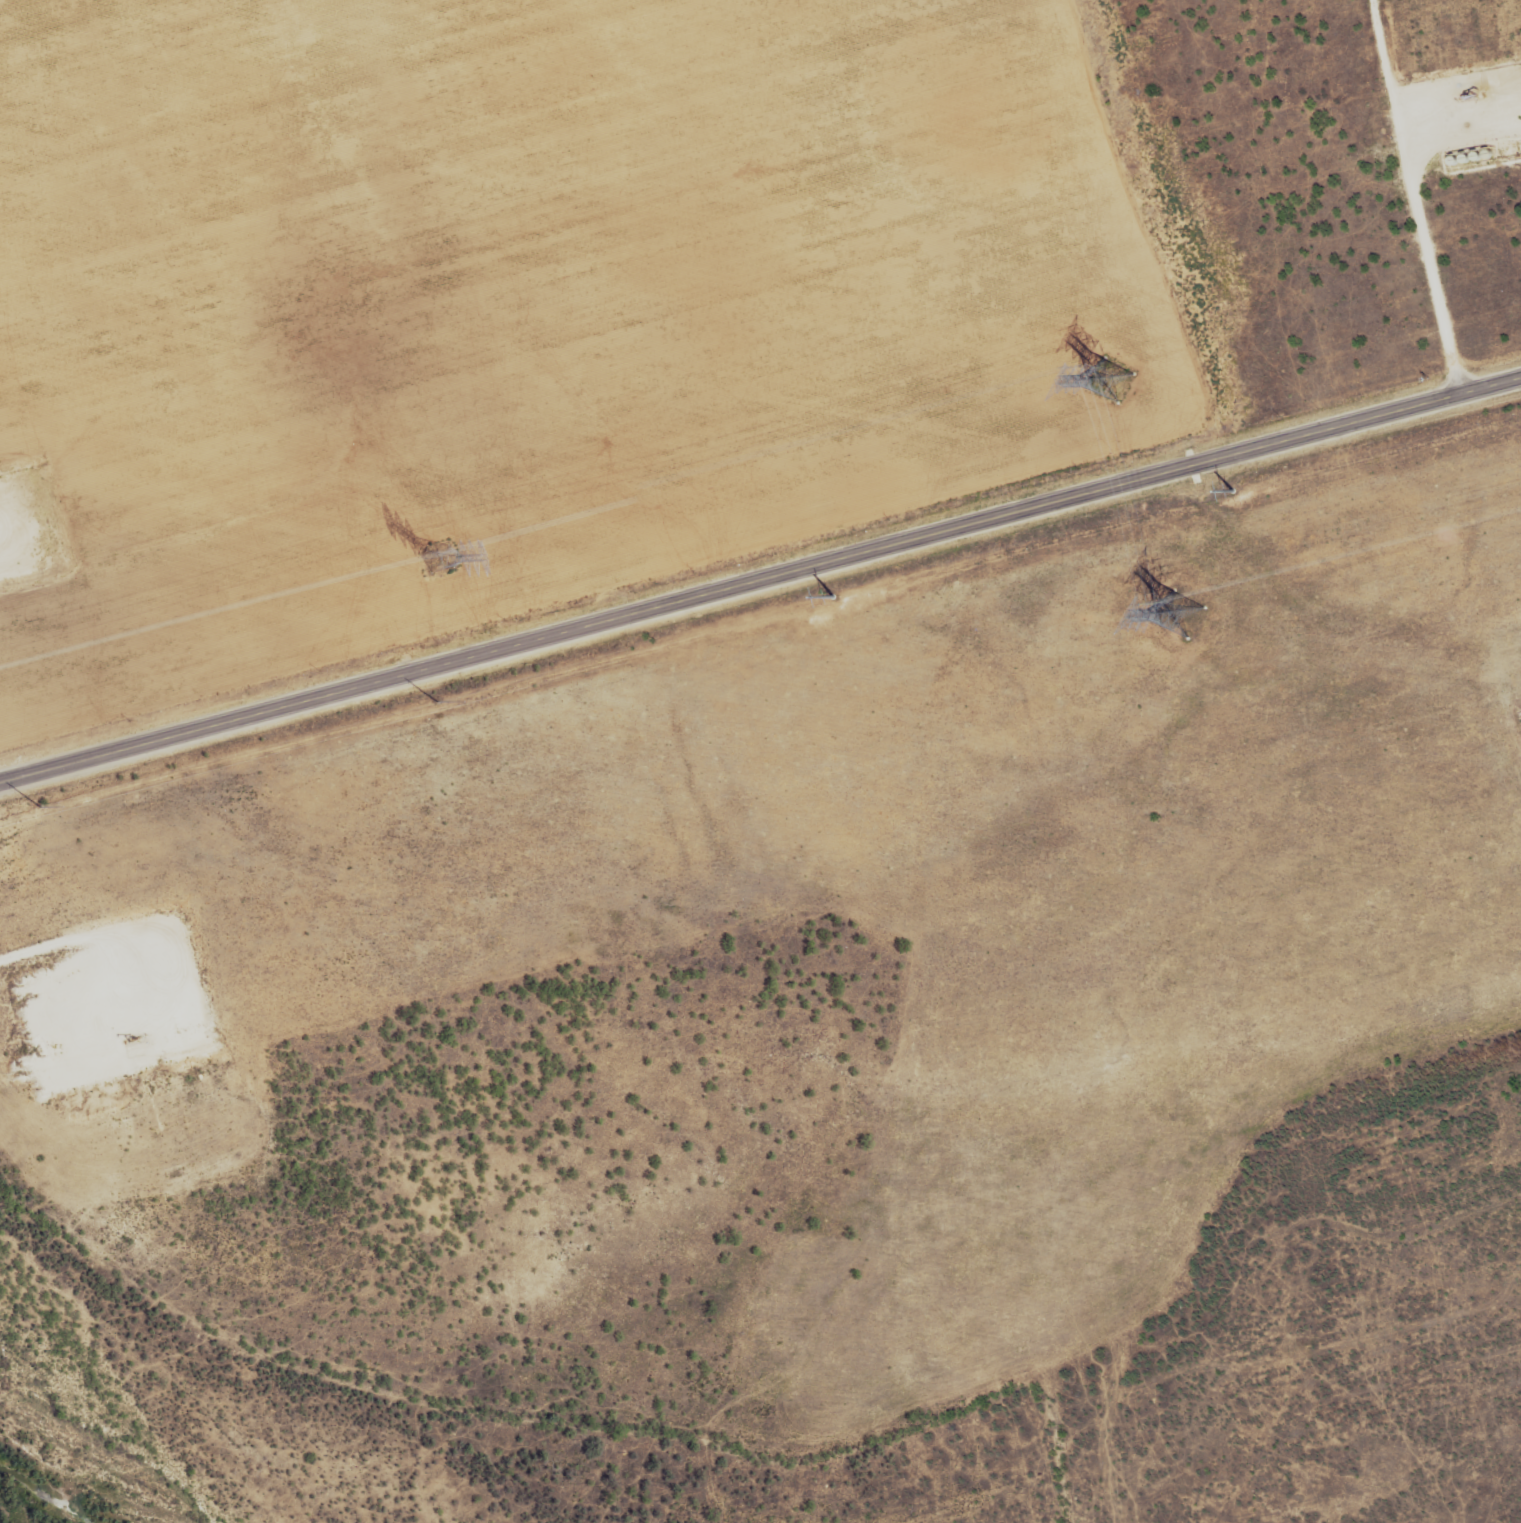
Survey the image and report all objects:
building: (1446, 46)
road: (1415, 199)
power tower: (1112, 379)
power tower: (1222, 491)
power tower: (438, 559)
road: (760, 584)
power tower: (823, 597)
power tower: (1180, 614)
power tower: (427, 700)
power tower: (29, 805)
river: (38, 1496)

